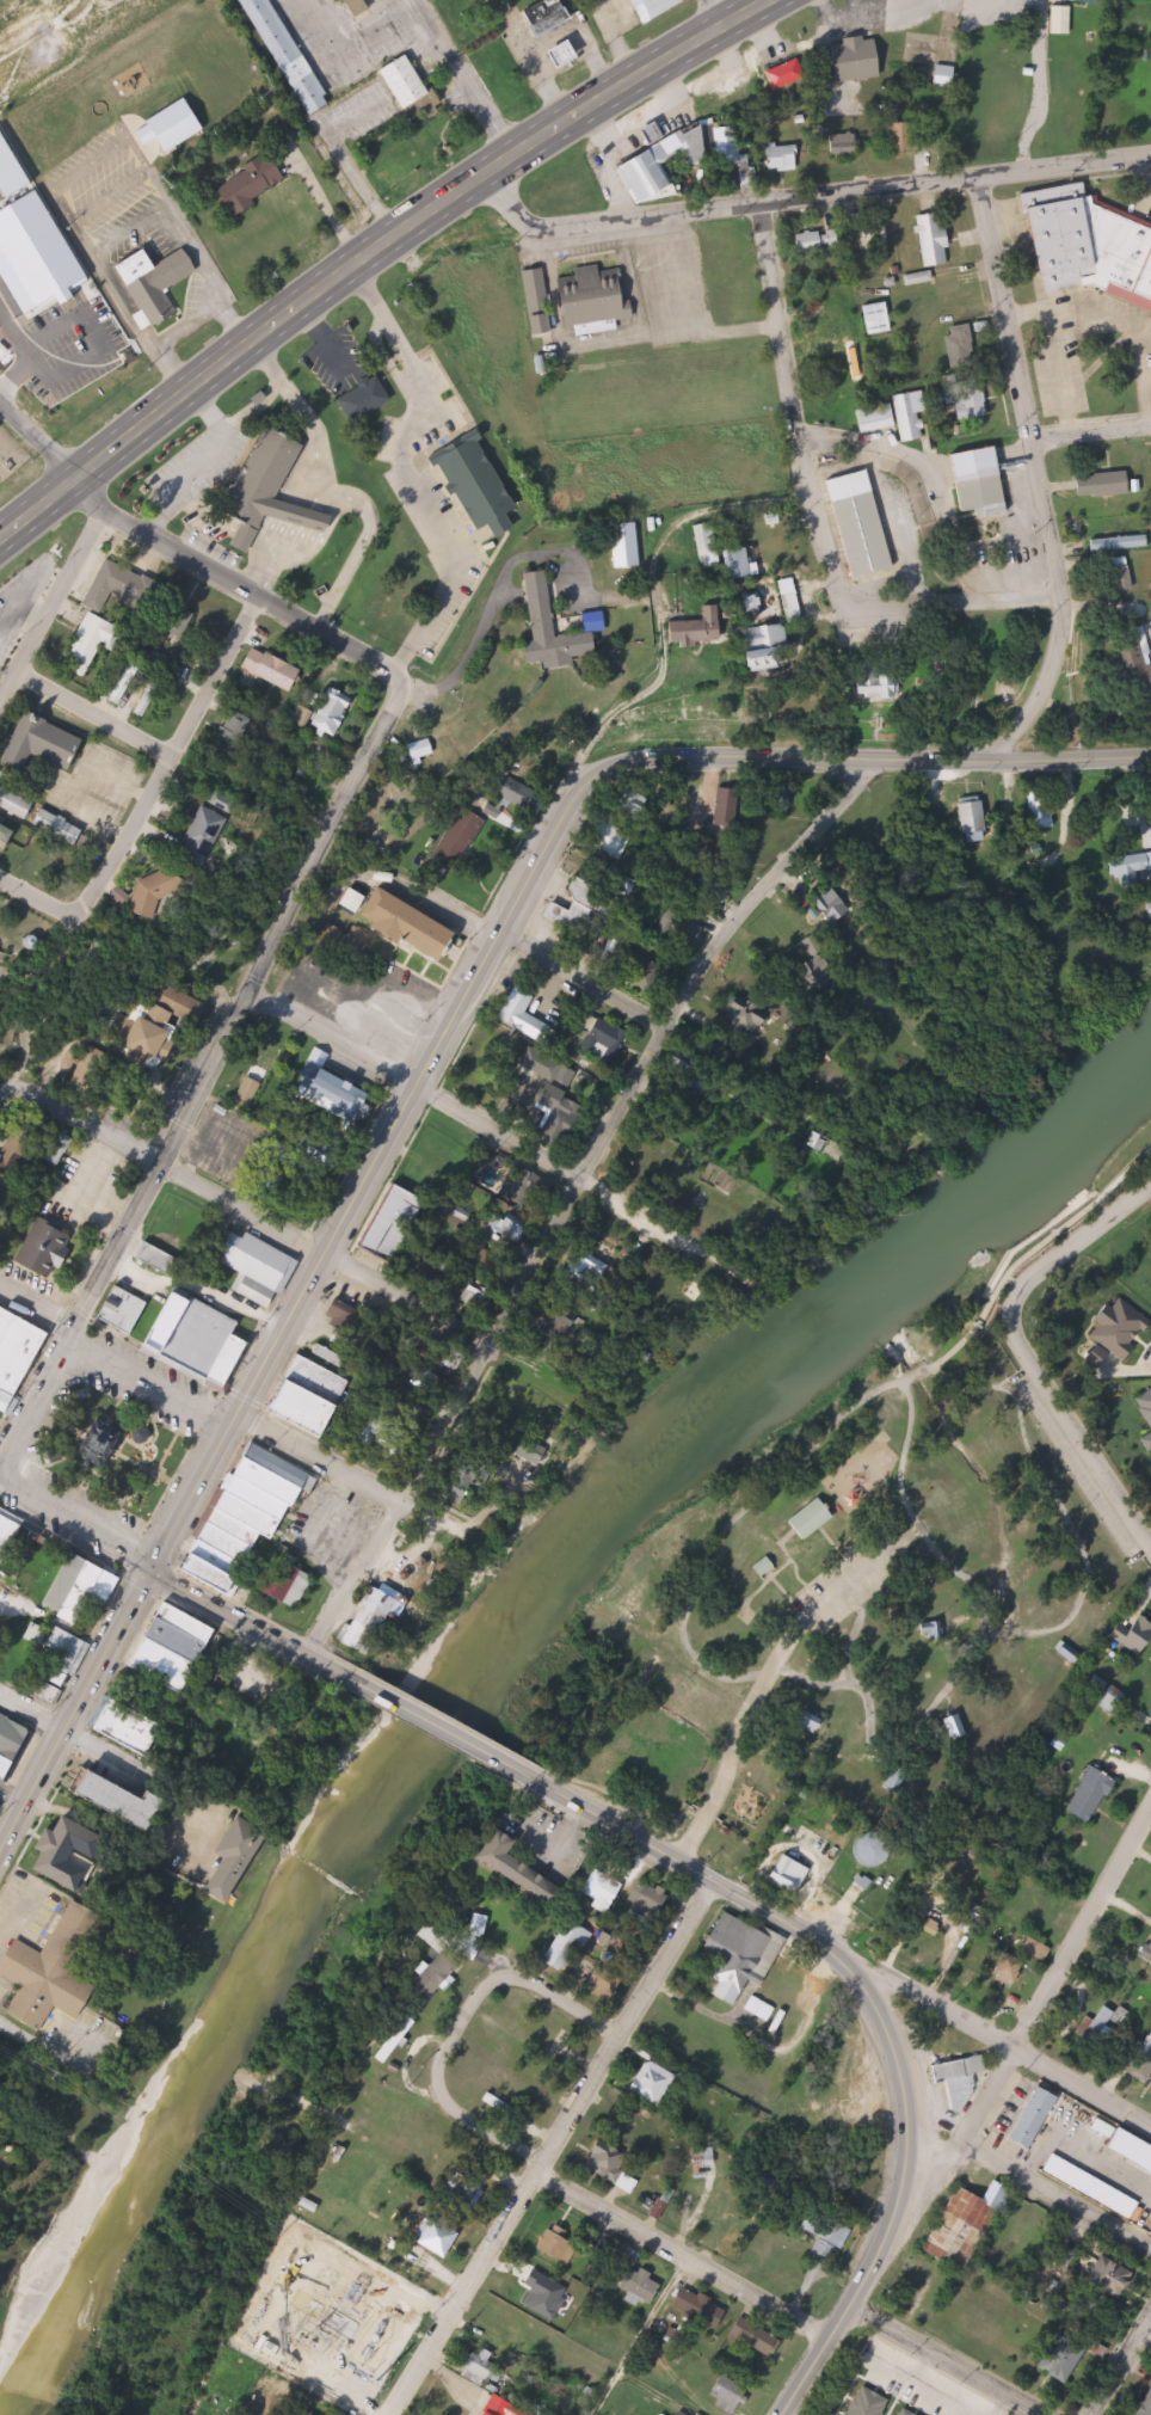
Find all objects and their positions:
building: (1076, 1)
building: (362, 6)
building: (657, 7)
road: (716, 13)
building: (552, 17)
building: (1052, 19)
building: (570, 54)
building: (291, 55)
building: (860, 59)
building: (931, 73)
building: (788, 74)
road: (467, 79)
building: (410, 80)
building: (905, 137)
building: (158, 143)
building: (845, 147)
building: (783, 158)
building: (650, 161)
road: (1147, 177)
building: (256, 183)
road: (807, 197)
building: (872, 235)
building: (936, 239)
building: (820, 242)
building: (1094, 246)
road: (373, 252)
road: (694, 274)
building: (921, 279)
building: (159, 287)
road: (633, 288)
building: (595, 297)
building: (540, 302)
building: (880, 319)
road: (663, 333)
building: (823, 339)
road: (596, 340)
road: (1051, 343)
building: (964, 346)
road: (1139, 389)
building: (970, 399)
building: (368, 400)
building: (912, 417)
building: (878, 419)
road: (1088, 425)
road: (35, 450)
road: (408, 472)
building: (983, 481)
road: (1036, 481)
building: (1108, 485)
building: (482, 487)
building: (273, 490)
road: (81, 492)
road: (813, 514)
building: (866, 524)
building: (1122, 543)
building: (710, 546)
building: (743, 563)
building: (1125, 574)
building: (119, 585)
road: (247, 585)
road: (48, 604)
building: (559, 628)
building: (703, 631)
building: (98, 638)
building: (775, 645)
building: (1137, 658)
building: (277, 669)
road: (220, 677)
building: (886, 682)
road: (55, 694)
building: (332, 715)
road: (134, 737)
building: (60, 745)
building: (430, 749)
building: (17, 803)
building: (978, 818)
building: (215, 831)
building: (8, 832)
road: (130, 841)
building: (453, 853)
building: (165, 893)
road: (42, 897)
building: (579, 909)
building: (417, 924)
road: (510, 928)
road: (586, 979)
road: (47, 995)
building: (159, 1033)
building: (602, 1038)
road: (209, 1074)
road: (5, 1077)
building: (688, 1088)
road: (417, 1089)
building: (343, 1096)
building: (560, 1096)
building: (19, 1154)
building: (529, 1187)
road: (579, 1198)
road: (250, 1213)
building: (396, 1224)
park: (6, 1229)
building: (48, 1248)
road: (1029, 1253)
building: (164, 1261)
building: (257, 1266)
building: (181, 1333)
building: (18, 1356)
road: (1024, 1356)
road: (202, 1397)
building: (1147, 1408)
building: (105, 1444)
building: (536, 1451)
parking lot: (1085, 1461)
building: (252, 1518)
building: (815, 1518)
road: (74, 1526)
road: (731, 1526)
building: (8, 1537)
building: (768, 1565)
building: (289, 1584)
building: (82, 1587)
park: (878, 1592)
building: (375, 1621)
road: (248, 1623)
building: (937, 1631)
road: (1048, 1635)
building: (1133, 1635)
road: (850, 1646)
building: (178, 1649)
road: (782, 1651)
building: (59, 1663)
road: (73, 1709)
road: (32, 1710)
building: (814, 1723)
building: (135, 1729)
building: (955, 1731)
road: (455, 1735)
building: (13, 1746)
road: (874, 1755)
road: (731, 1765)
building: (609, 1768)
building: (898, 1780)
building: (703, 1783)
building: (1077, 1796)
building: (130, 1801)
building: (876, 1850)
building: (73, 1852)
road: (696, 1864)
building: (518, 1867)
building: (792, 1876)
building: (604, 1888)
building: (651, 1900)
building: (568, 1947)
building: (1029, 1947)
building: (1143, 1949)
building: (751, 1966)
building: (999, 1968)
building: (59, 1970)
building: (439, 1971)
road: (1053, 1975)
building: (605, 1985)
road: (466, 2018)
building: (1092, 2026)
road: (990, 2036)
building: (398, 2040)
road: (32, 2041)
building: (962, 2081)
building: (654, 2082)
building: (504, 2107)
building: (1036, 2115)
road: (552, 2145)
building: (1133, 2146)
building: (624, 2179)
road: (905, 2183)
road: (1032, 2186)
building: (1094, 2187)
building: (968, 2225)
building: (829, 2236)
building: (442, 2237)
building: (560, 2248)
road: (683, 2257)
building: (1113, 2278)
building: (633, 2280)
road: (638, 2336)
road: (1145, 2337)
building: (1063, 2358)
road: (947, 2361)
building: (484, 2371)
road: (1133, 2371)
building: (730, 2394)
building: (499, 2407)
building: (1146, 2407)

